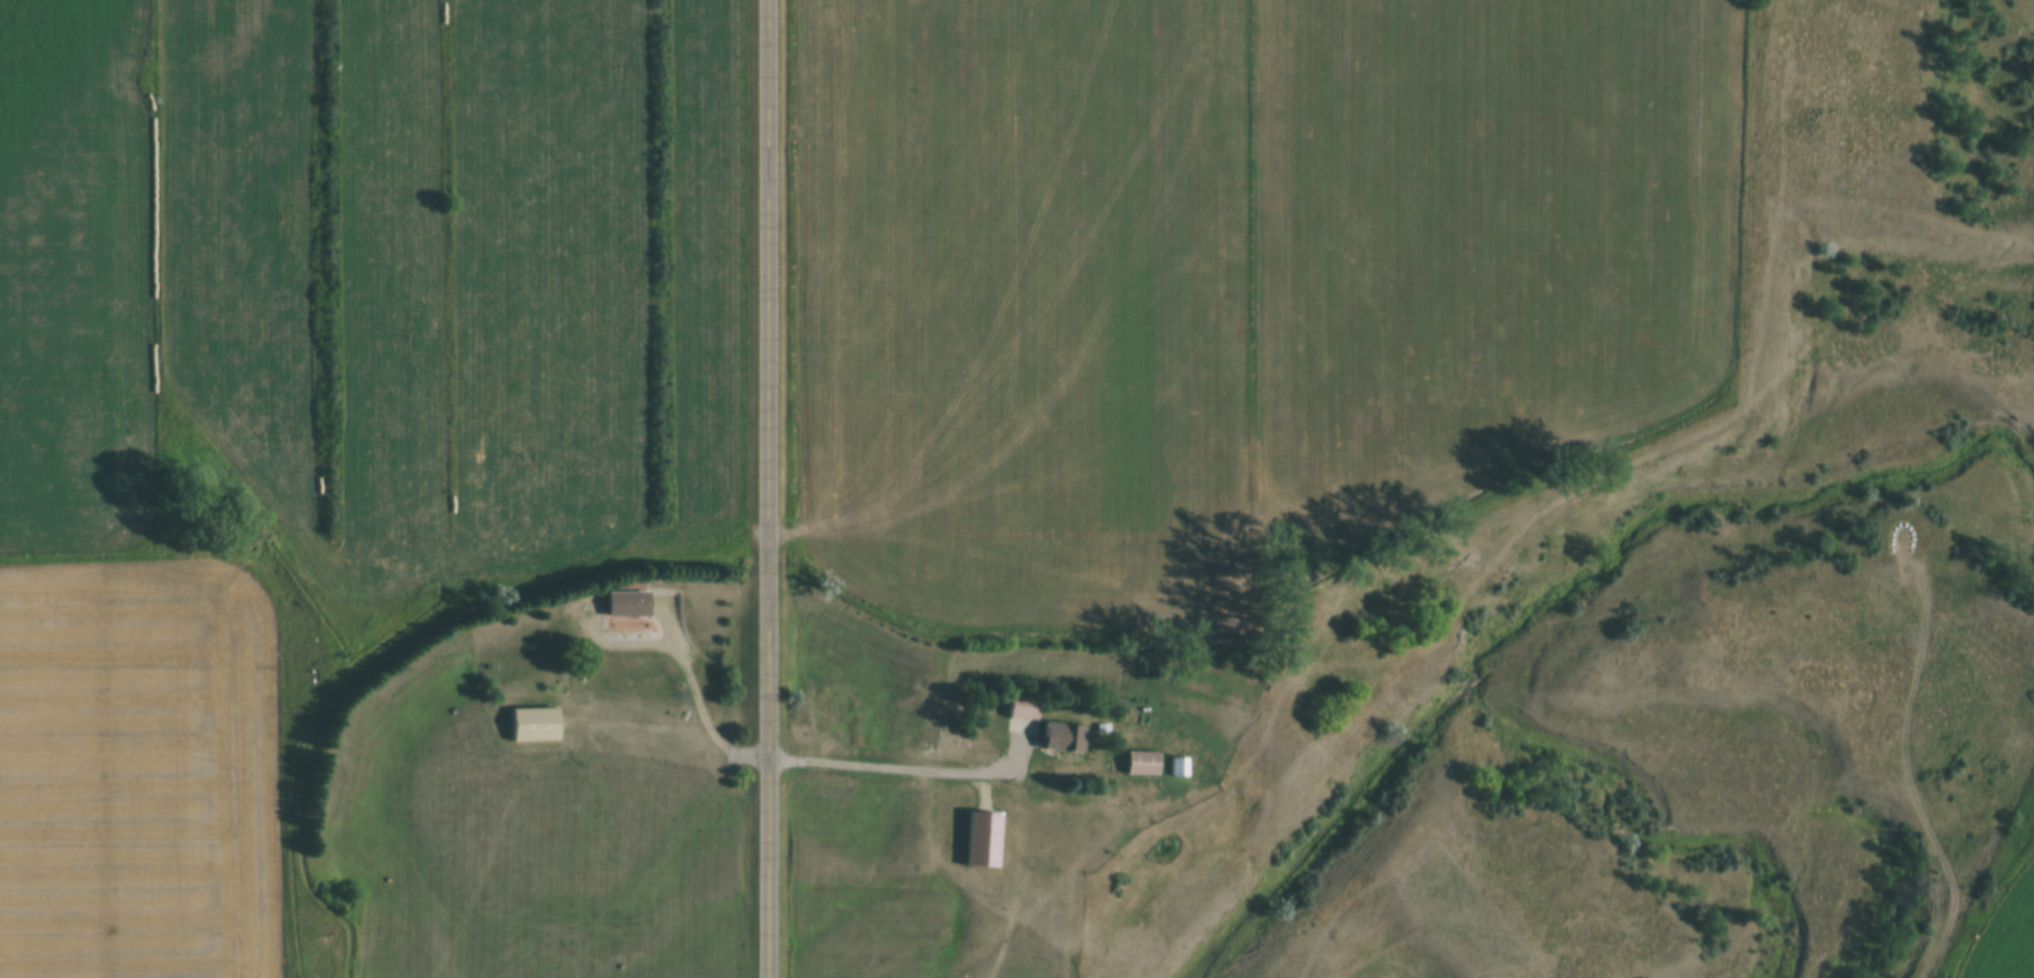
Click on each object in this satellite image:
road: (767, 489)
building: (627, 606)
road: (690, 685)
building: (1023, 709)
building: (535, 726)
building: (1069, 740)
road: (1910, 743)
building: (1142, 765)
road: (904, 769)
building: (1179, 769)

